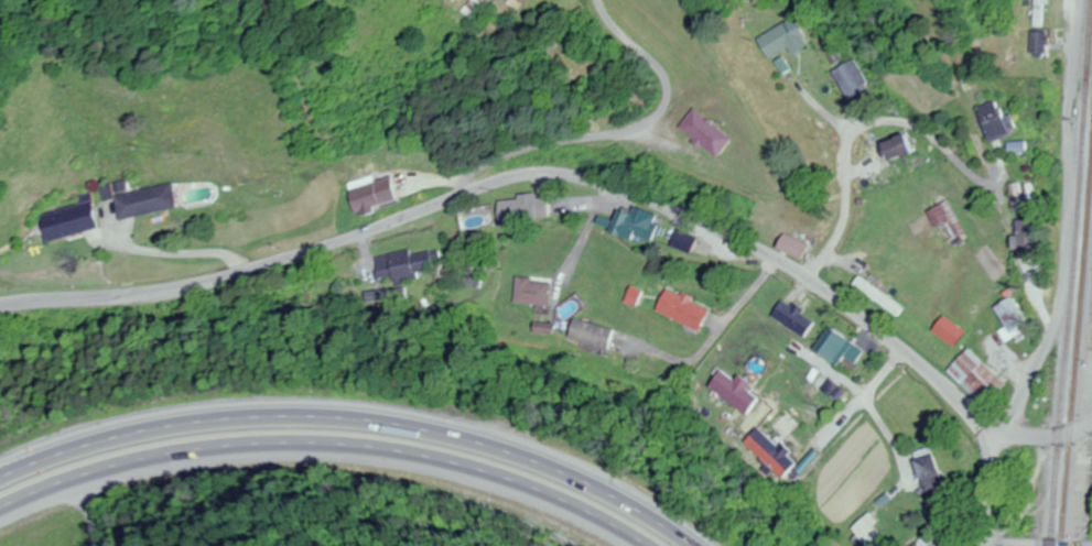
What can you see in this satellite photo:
building: (487, 11)
building: (1032, 13)
railway: (1084, 32)
building: (776, 41)
building: (1031, 44)
building: (844, 80)
building: (985, 122)
road: (847, 128)
road: (614, 130)
building: (692, 133)
building: (885, 148)
building: (270, 189)
building: (369, 194)
building: (1012, 196)
building: (140, 200)
building: (513, 208)
building: (71, 220)
building: (940, 222)
road: (1060, 225)
building: (627, 228)
building: (1019, 239)
building: (677, 242)
building: (786, 247)
building: (401, 265)
road: (790, 272)
railway: (1070, 273)
road: (229, 274)
building: (528, 292)
building: (873, 296)
railway: (1078, 301)
building: (678, 310)
building: (789, 318)
building: (1009, 318)
building: (944, 331)
building: (586, 335)
building: (834, 349)
building: (973, 378)
building: (727, 391)
road: (360, 415)
road: (875, 415)
road: (1038, 438)
road: (324, 448)
building: (765, 454)
building: (926, 473)
road: (1023, 545)

